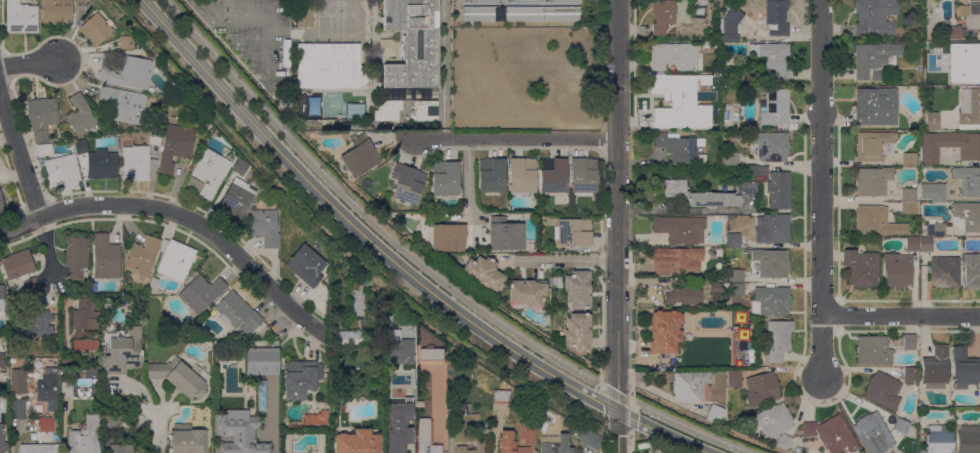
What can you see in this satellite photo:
building: (478, 2)
building: (750, 3)
park: (339, 6)
building: (698, 7)
building: (57, 12)
building: (304, 13)
building: (480, 14)
building: (541, 14)
building: (971, 14)
building: (662, 15)
road: (256, 16)
building: (21, 17)
building: (711, 17)
building: (777, 17)
building: (875, 17)
building: (731, 21)
building: (95, 29)
building: (954, 33)
building: (730, 37)
building: (125, 42)
building: (412, 43)
building: (706, 45)
building: (534, 54)
building: (969, 54)
building: (676, 57)
building: (773, 58)
building: (874, 59)
road: (32, 65)
building: (330, 66)
building: (128, 72)
building: (563, 77)
building: (959, 77)
building: (940, 80)
building: (927, 82)
building: (678, 84)
building: (711, 84)
building: (778, 102)
building: (125, 104)
building: (876, 106)
building: (969, 107)
building: (387, 110)
building: (424, 110)
building: (80, 115)
building: (42, 118)
building: (932, 121)
building: (707, 122)
building: (155, 137)
road: (504, 139)
building: (80, 146)
building: (175, 146)
building: (771, 146)
building: (874, 146)
building: (949, 146)
building: (681, 149)
building: (44, 150)
road: (20, 156)
building: (358, 157)
building: (731, 159)
building: (909, 159)
building: (136, 162)
building: (102, 164)
building: (240, 167)
building: (62, 170)
building: (755, 172)
building: (210, 173)
building: (491, 175)
building: (553, 175)
building: (522, 176)
building: (584, 176)
building: (445, 179)
building: (873, 181)
building: (968, 181)
building: (407, 183)
building: (747, 186)
building: (778, 190)
road: (822, 190)
building: (933, 192)
building: (697, 195)
building: (908, 195)
building: (237, 198)
building: (1, 205)
building: (908, 208)
road: (364, 213)
road: (179, 215)
building: (966, 216)
building: (876, 222)
building: (265, 225)
road: (617, 226)
building: (773, 228)
building: (935, 228)
building: (680, 229)
building: (573, 232)
building: (505, 234)
building: (446, 238)
building: (733, 240)
building: (912, 244)
building: (926, 245)
building: (528, 246)
building: (76, 253)
building: (143, 256)
building: (106, 257)
building: (175, 260)
road: (558, 260)
building: (678, 262)
building: (771, 263)
building: (18, 265)
building: (306, 265)
building: (861, 268)
building: (897, 270)
building: (944, 271)
building: (971, 271)
building: (483, 273)
building: (737, 276)
building: (153, 284)
building: (30, 285)
building: (43, 289)
building: (718, 289)
building: (577, 290)
building: (737, 290)
building: (201, 293)
building: (527, 293)
building: (683, 296)
building: (771, 301)
building: (2, 303)
building: (107, 303)
building: (238, 313)
building: (84, 315)
road: (902, 316)
building: (41, 325)
building: (578, 331)
building: (665, 332)
building: (351, 337)
building: (778, 339)
building: (909, 342)
building: (85, 345)
building: (399, 348)
building: (873, 350)
building: (122, 352)
building: (431, 356)
building: (1, 359)
building: (262, 361)
building: (700, 363)
building: (936, 368)
building: (964, 368)
building: (911, 376)
building: (180, 377)
building: (300, 378)
building: (734, 379)
building: (18, 381)
building: (390, 384)
building: (690, 385)
building: (48, 389)
building: (761, 389)
building: (66, 390)
building: (883, 391)
building: (392, 394)
road: (615, 394)
building: (501, 396)
building: (419, 403)
building: (17, 408)
building: (453, 408)
traffic signals: (617, 412)
road: (631, 413)
building: (715, 414)
building: (951, 417)
building: (313, 418)
building: (771, 420)
building: (114, 423)
building: (48, 426)
building: (902, 426)
building: (395, 428)
road: (688, 429)
building: (873, 431)
building: (240, 432)
road: (12, 434)
building: (831, 434)
road: (160, 435)
building: (85, 437)
building: (585, 437)
building: (111, 438)
building: (427, 438)
building: (527, 438)
building: (938, 439)
building: (968, 439)
building: (188, 440)
building: (2, 441)
road: (629, 441)
building: (783, 441)
building: (358, 442)
building: (555, 444)
building: (37, 448)
building: (122, 448)
building: (460, 448)
building: (797, 450)

